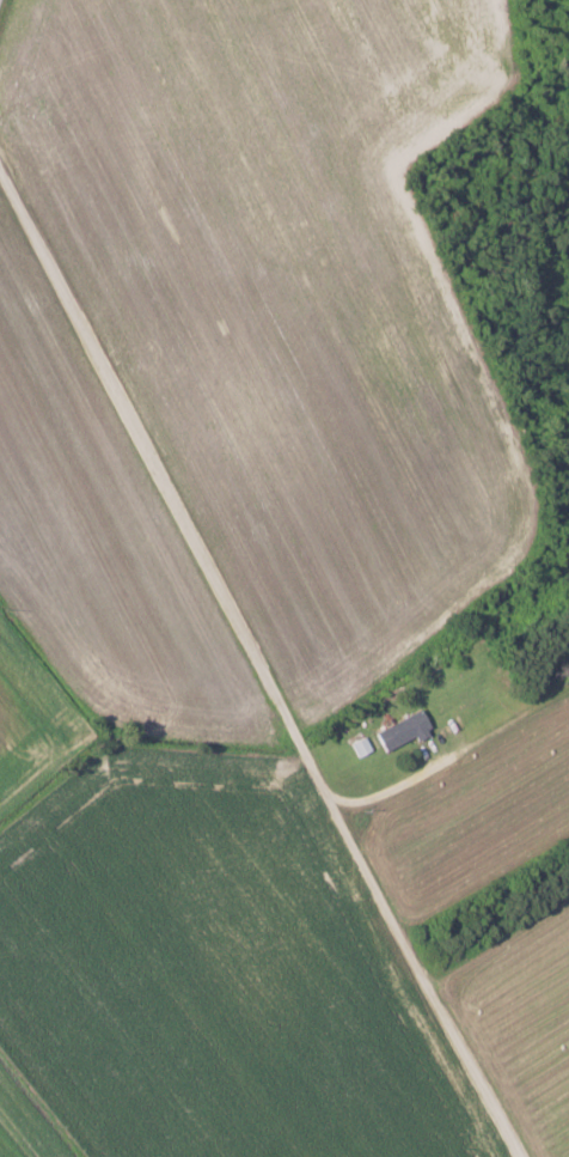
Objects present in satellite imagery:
road: (210, 572)
building: (403, 730)
building: (360, 745)
road: (436, 767)
road: (471, 1066)

